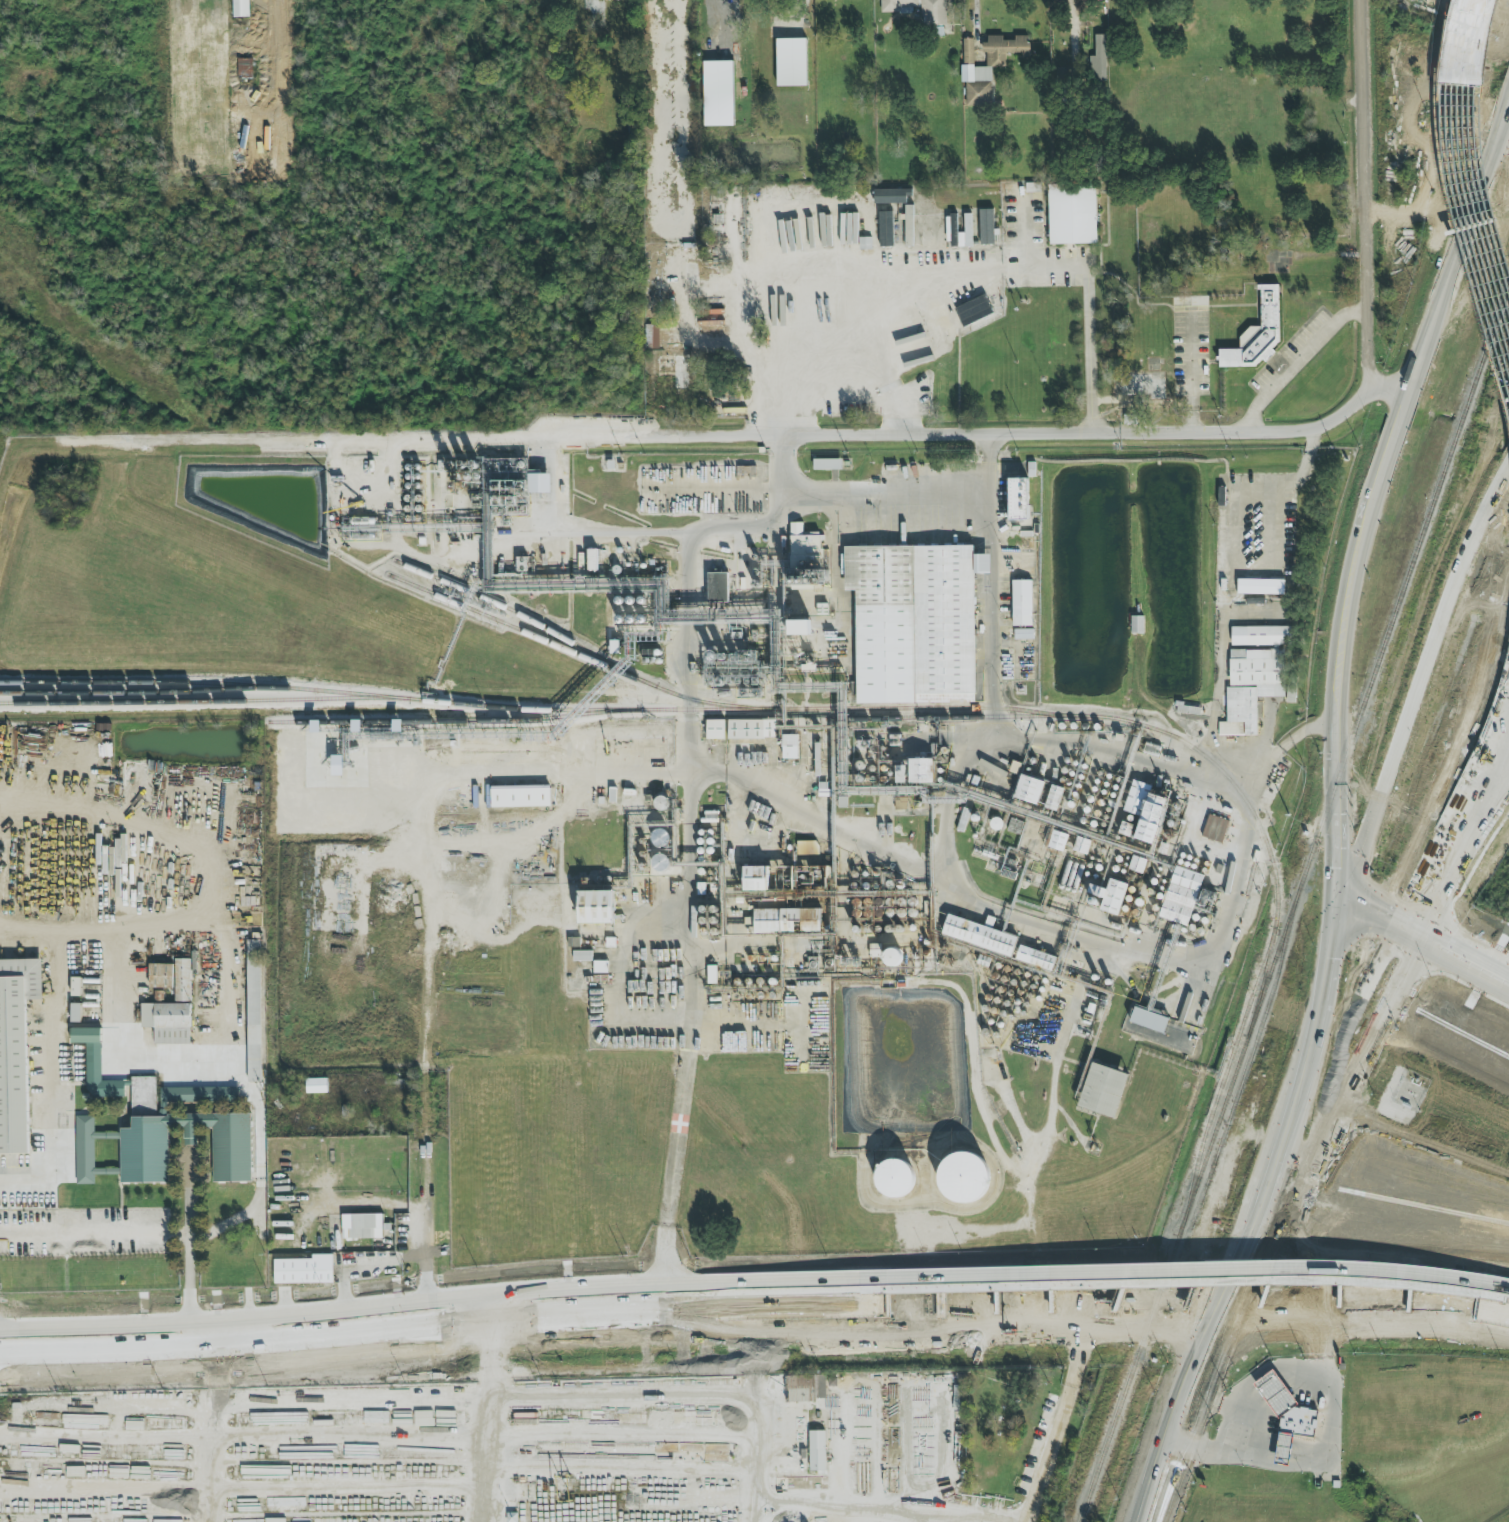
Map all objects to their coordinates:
building: (241, 8)
building: (918, 10)
road: (974, 15)
road: (1071, 17)
building: (1097, 61)
building: (791, 62)
road: (35, 63)
building: (988, 66)
building: (245, 68)
building: (718, 94)
road: (1475, 144)
road: (1365, 193)
building: (891, 196)
road: (1459, 197)
building: (1072, 214)
building: (909, 226)
building: (986, 227)
building: (886, 229)
road: (802, 271)
road: (1087, 277)
building: (973, 311)
building: (1258, 334)
building: (652, 336)
road: (1298, 361)
road: (1190, 371)
road: (1390, 384)
road: (724, 437)
building: (827, 464)
building: (506, 485)
road: (713, 488)
road: (884, 492)
building: (1018, 499)
road: (583, 531)
road: (1235, 548)
building: (806, 558)
road: (990, 564)
road: (686, 568)
railway: (1403, 583)
building: (717, 587)
building: (1022, 603)
railway: (525, 619)
building: (914, 622)
building: (799, 628)
building: (1261, 636)
railway: (587, 659)
road: (1420, 667)
building: (1253, 687)
railway: (359, 696)
railway: (836, 710)
railway: (966, 718)
railway: (379, 720)
building: (751, 729)
building: (715, 730)
building: (790, 747)
building: (621, 750)
road: (1483, 759)
building: (338, 766)
road: (560, 769)
building: (921, 771)
building: (1029, 789)
building: (520, 796)
building: (1054, 798)
road: (1491, 800)
road: (1491, 809)
building: (1145, 811)
building: (1214, 829)
building: (1058, 839)
building: (755, 878)
traffic signals: (1418, 887)
building: (1110, 896)
building: (1180, 896)
road: (691, 906)
building: (596, 907)
road: (1366, 913)
building: (788, 921)
building: (980, 936)
road: (1073, 936)
traffic signals: (1450, 940)
road: (1456, 943)
building: (582, 956)
building: (893, 958)
building: (1036, 958)
road: (1450, 967)
traffic signals: (1403, 972)
building: (711, 974)
road: (1338, 974)
building: (162, 975)
building: (182, 981)
building: (76, 987)
building: (254, 1011)
building: (76, 1013)
building: (1149, 1020)
road: (433, 1029)
building: (16, 1050)
railway: (1248, 1059)
building: (97, 1066)
road: (1328, 1067)
road: (1349, 1075)
railway: (1222, 1082)
building: (316, 1086)
road: (247, 1087)
building: (1103, 1090)
road: (1052, 1098)
building: (144, 1137)
road: (672, 1172)
building: (963, 1178)
building: (893, 1179)
railway: (1188, 1205)
road: (190, 1217)
building: (362, 1227)
road: (1374, 1269)
building: (304, 1270)
road: (994, 1273)
road: (190, 1295)
road: (1130, 1295)
road: (375, 1301)
road: (375, 1328)
road: (1204, 1370)
road: (1301, 1376)
building: (806, 1388)
road: (1271, 1391)
building: (1274, 1395)
gas station: (1274, 1395)
road: (1228, 1406)
road: (1324, 1409)
road: (485, 1419)
building: (1297, 1423)
road: (1056, 1427)
road: (759, 1432)
road: (207, 1444)
building: (1283, 1450)
gas station: (1283, 1450)
building: (817, 1451)
road: (1227, 1452)
road: (1283, 1452)
road: (1168, 1475)
road: (879, 1515)

